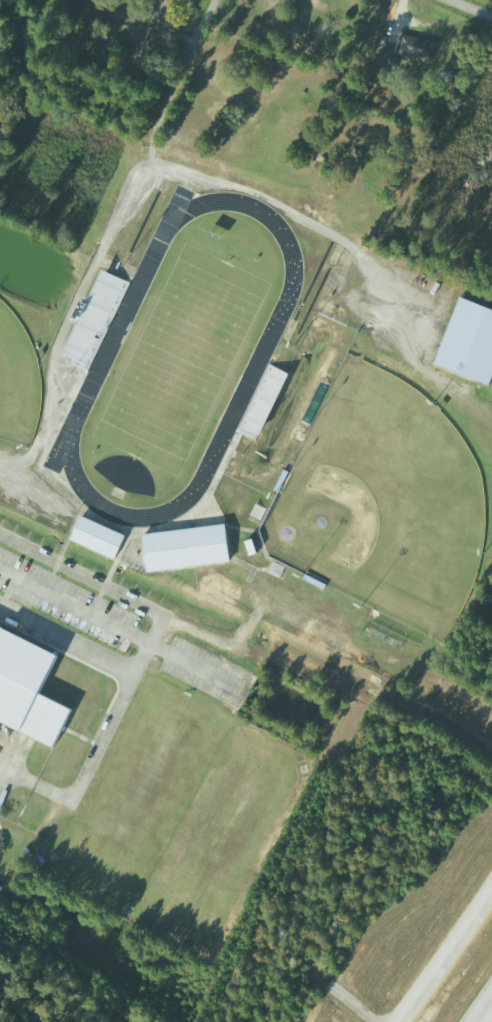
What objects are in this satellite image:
road: (477, 6)
building: (417, 46)
building: (97, 317)
building: (467, 343)
park: (183, 361)
track: (259, 364)
park: (17, 385)
park: (382, 503)
building: (98, 538)
building: (186, 549)
parking lot: (67, 604)
building: (27, 692)
building: (2, 847)
road: (445, 961)
road: (486, 1014)

